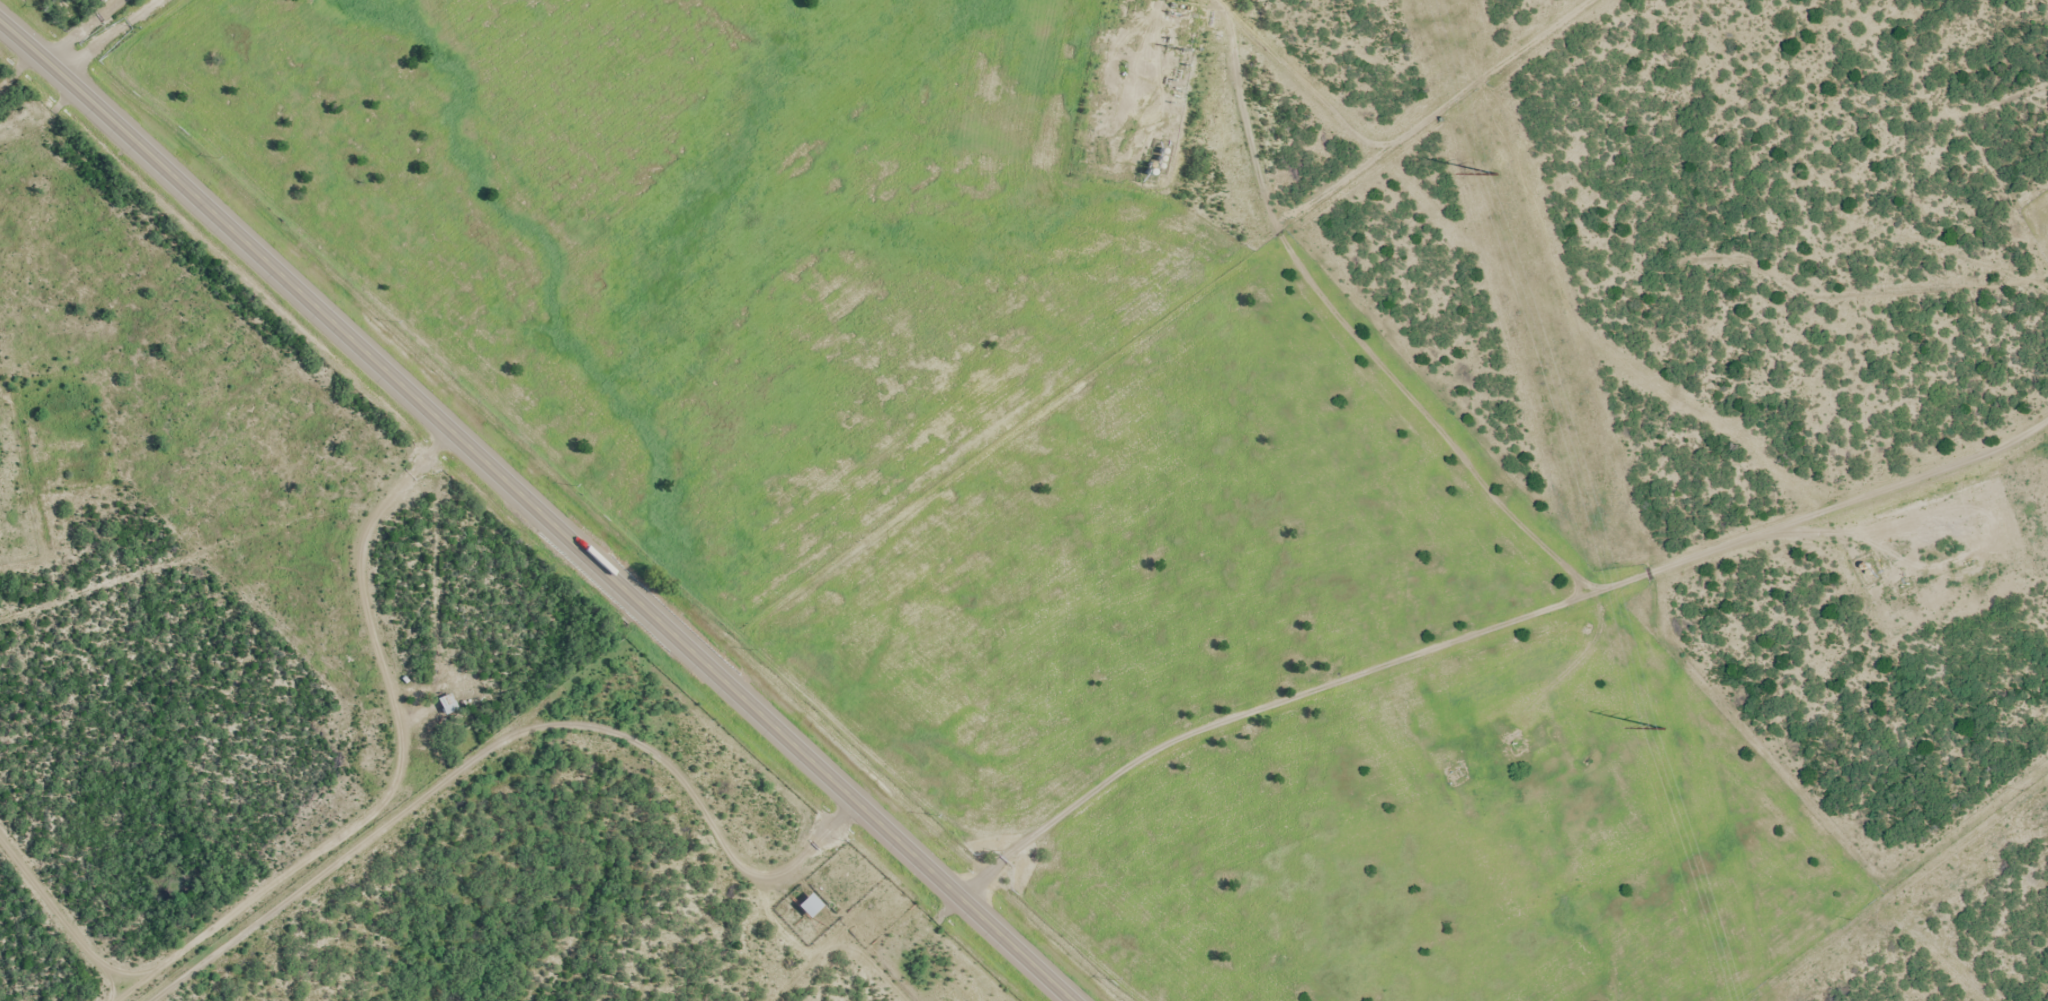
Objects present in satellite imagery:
road: (104, 28)
power tower: (1496, 174)
road: (546, 502)
power tower: (1662, 729)
road: (1022, 792)
road: (1904, 902)

